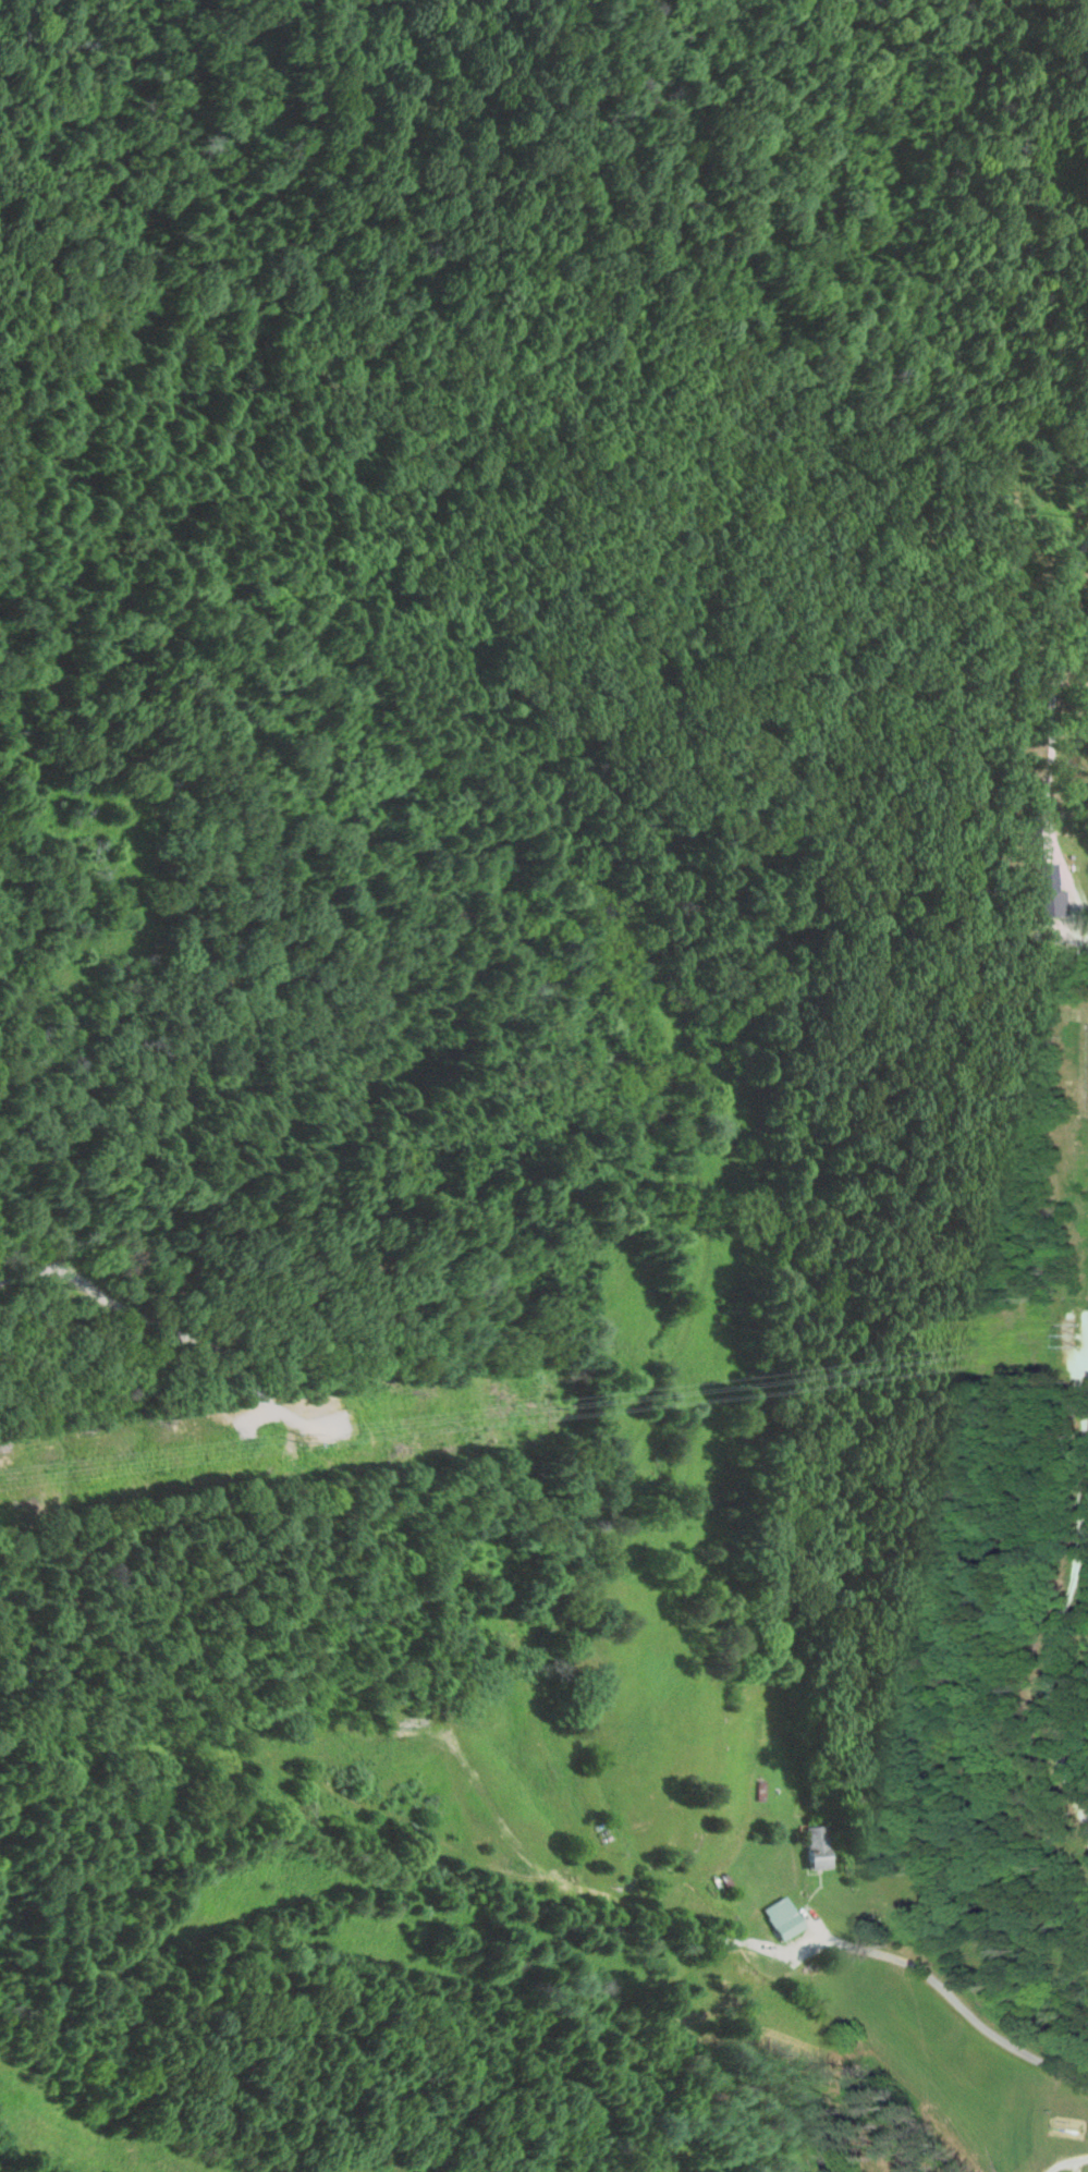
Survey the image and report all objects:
power tower: (1076, 1340)
power tower: (269, 1443)
building: (820, 1847)
building: (785, 1919)
road: (983, 2025)

